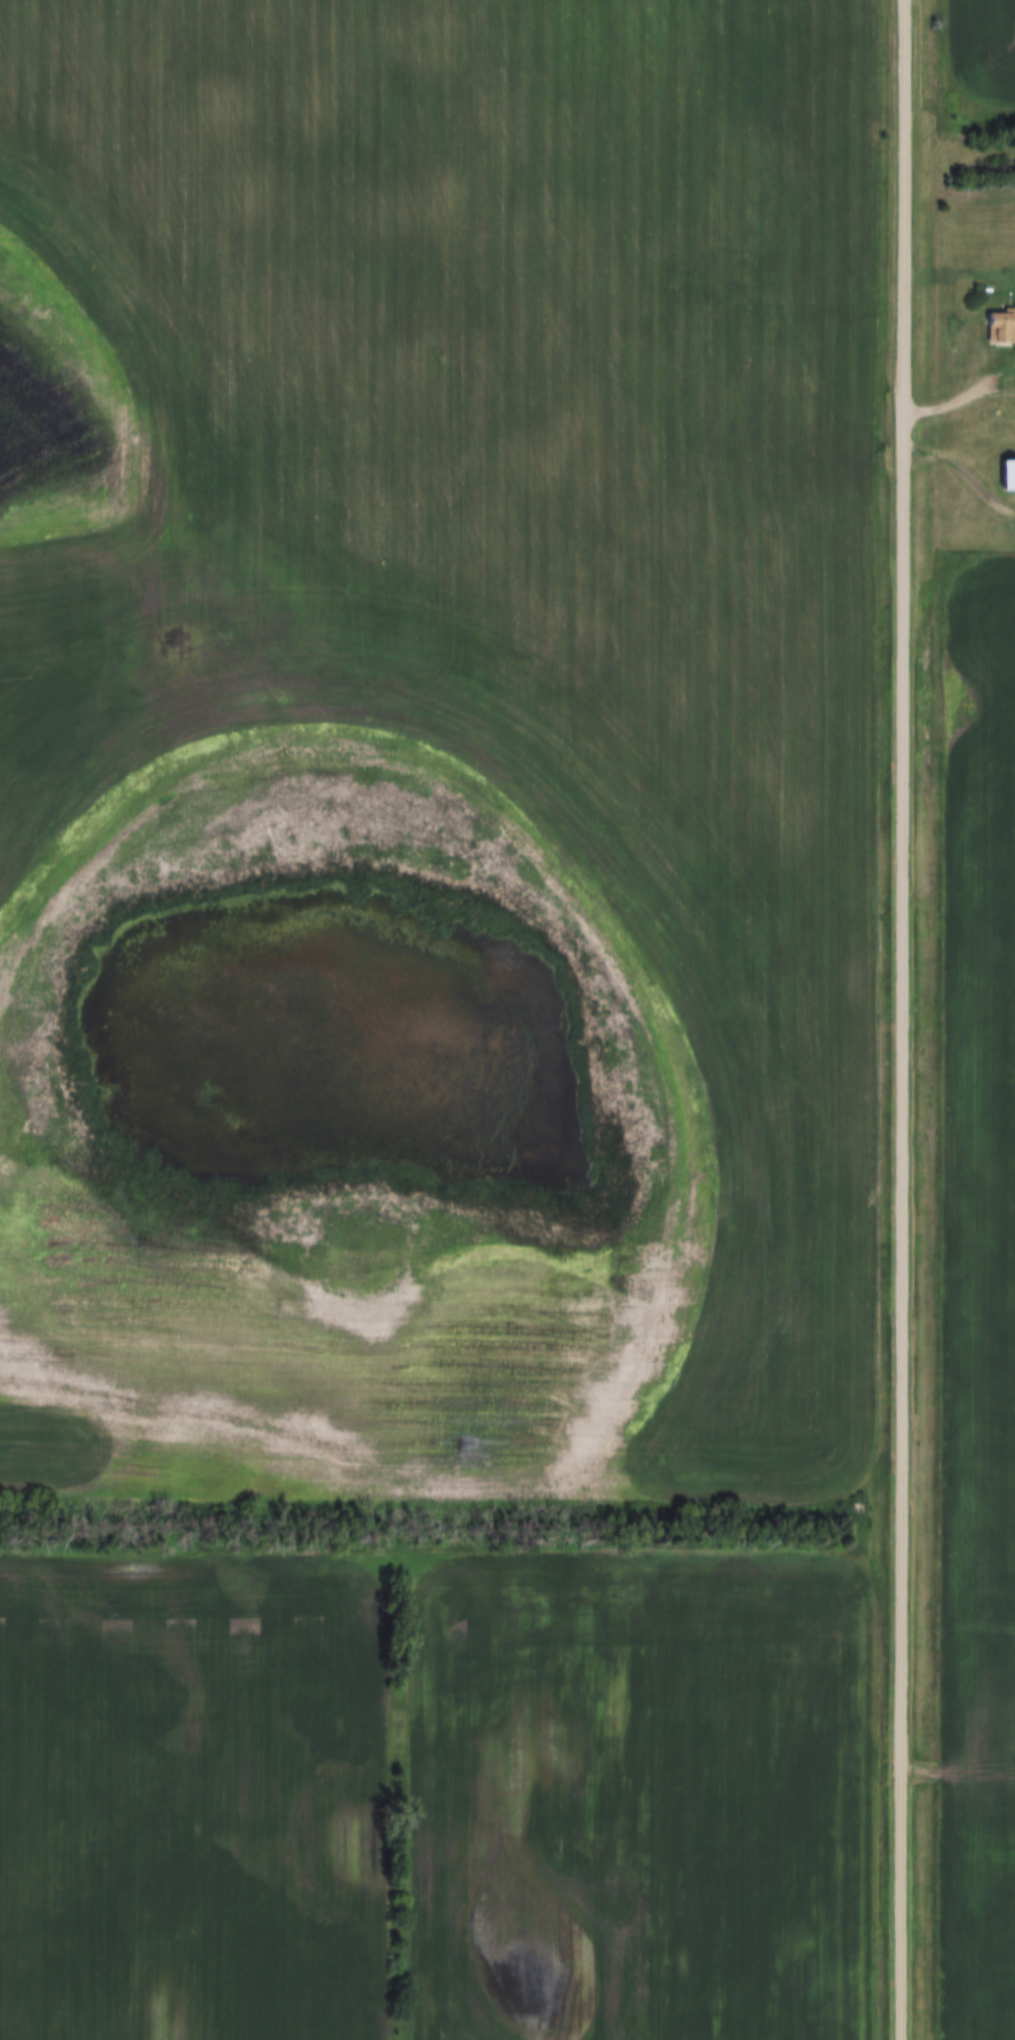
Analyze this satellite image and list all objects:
building: (994, 327)
road: (966, 467)
building: (1005, 477)
road: (902, 1019)

